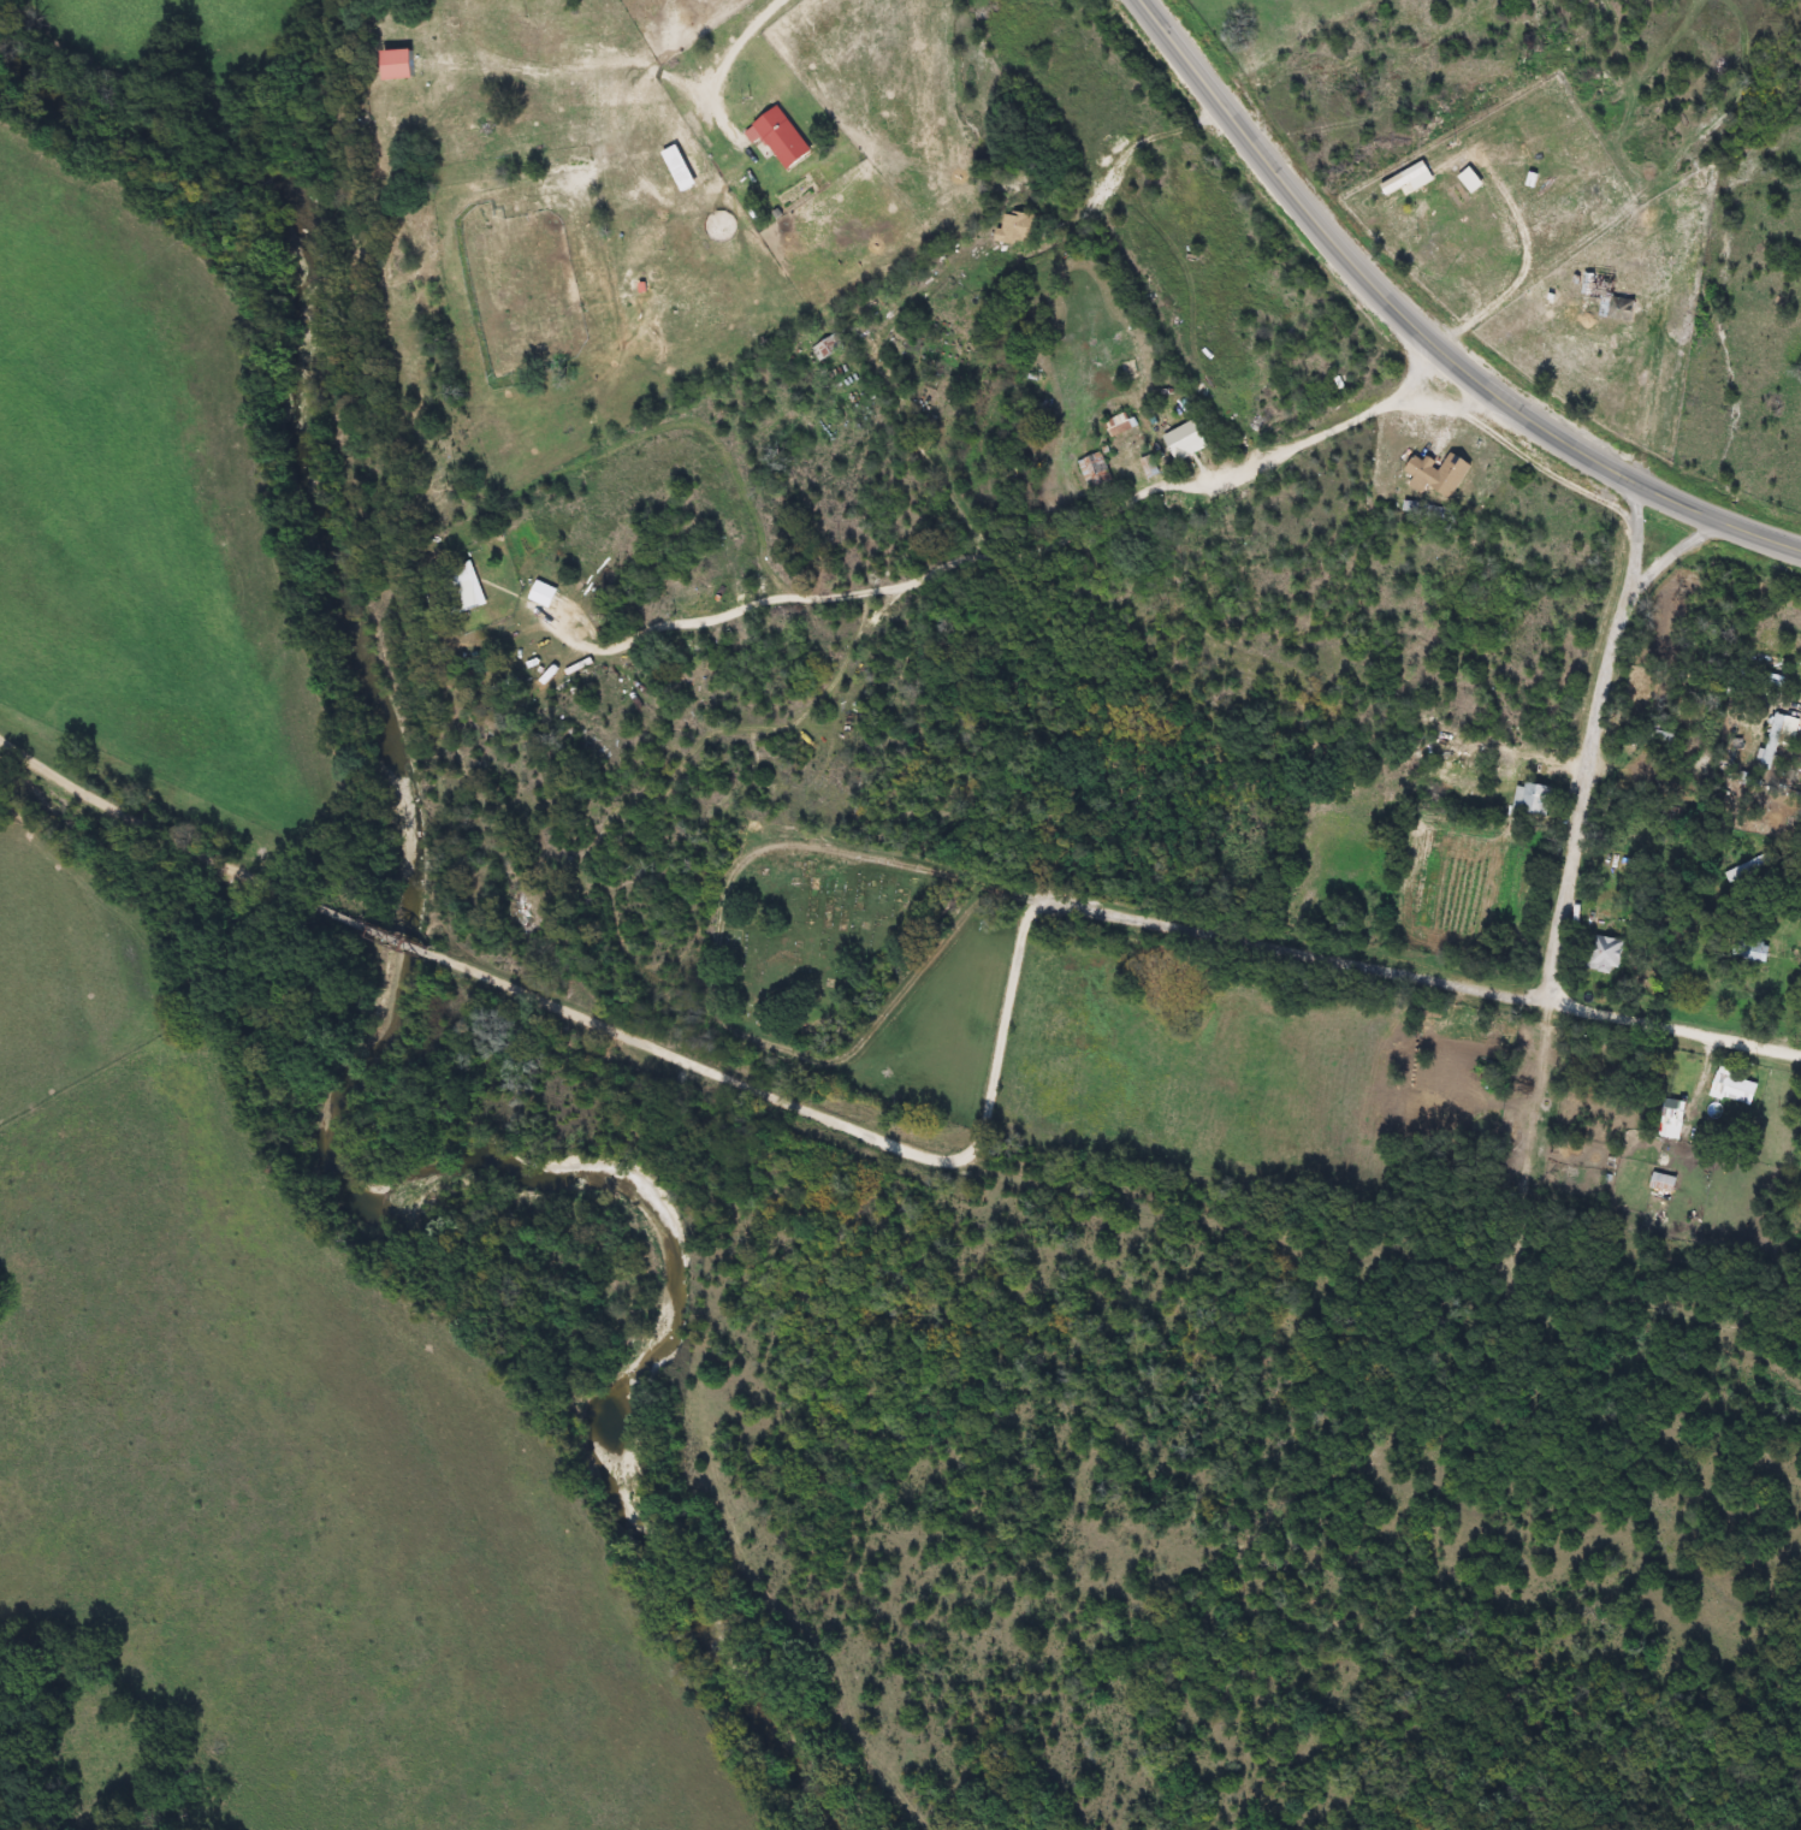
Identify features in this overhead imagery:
road: (734, 57)
building: (396, 65)
building: (777, 138)
building: (1014, 229)
building: (1599, 290)
building: (1624, 309)
road: (1428, 330)
road: (1457, 332)
building: (1184, 442)
building: (1436, 474)
railway: (401, 528)
building: (463, 588)
building: (1663, 736)
building: (1530, 801)
road: (1293, 950)
building: (1604, 954)
park: (851, 961)
road: (780, 1070)
building: (1734, 1089)
building: (1661, 1183)
railway: (1143, 1391)

